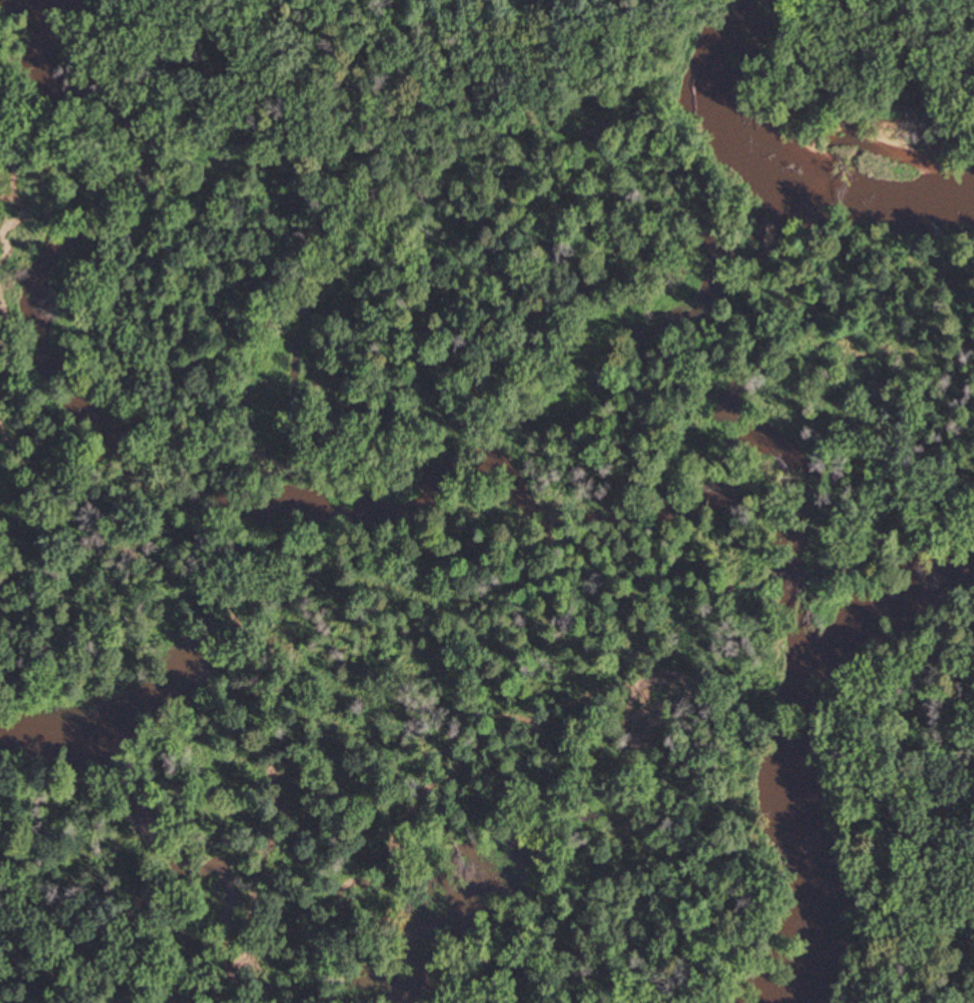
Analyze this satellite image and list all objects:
river: (515, 455)

